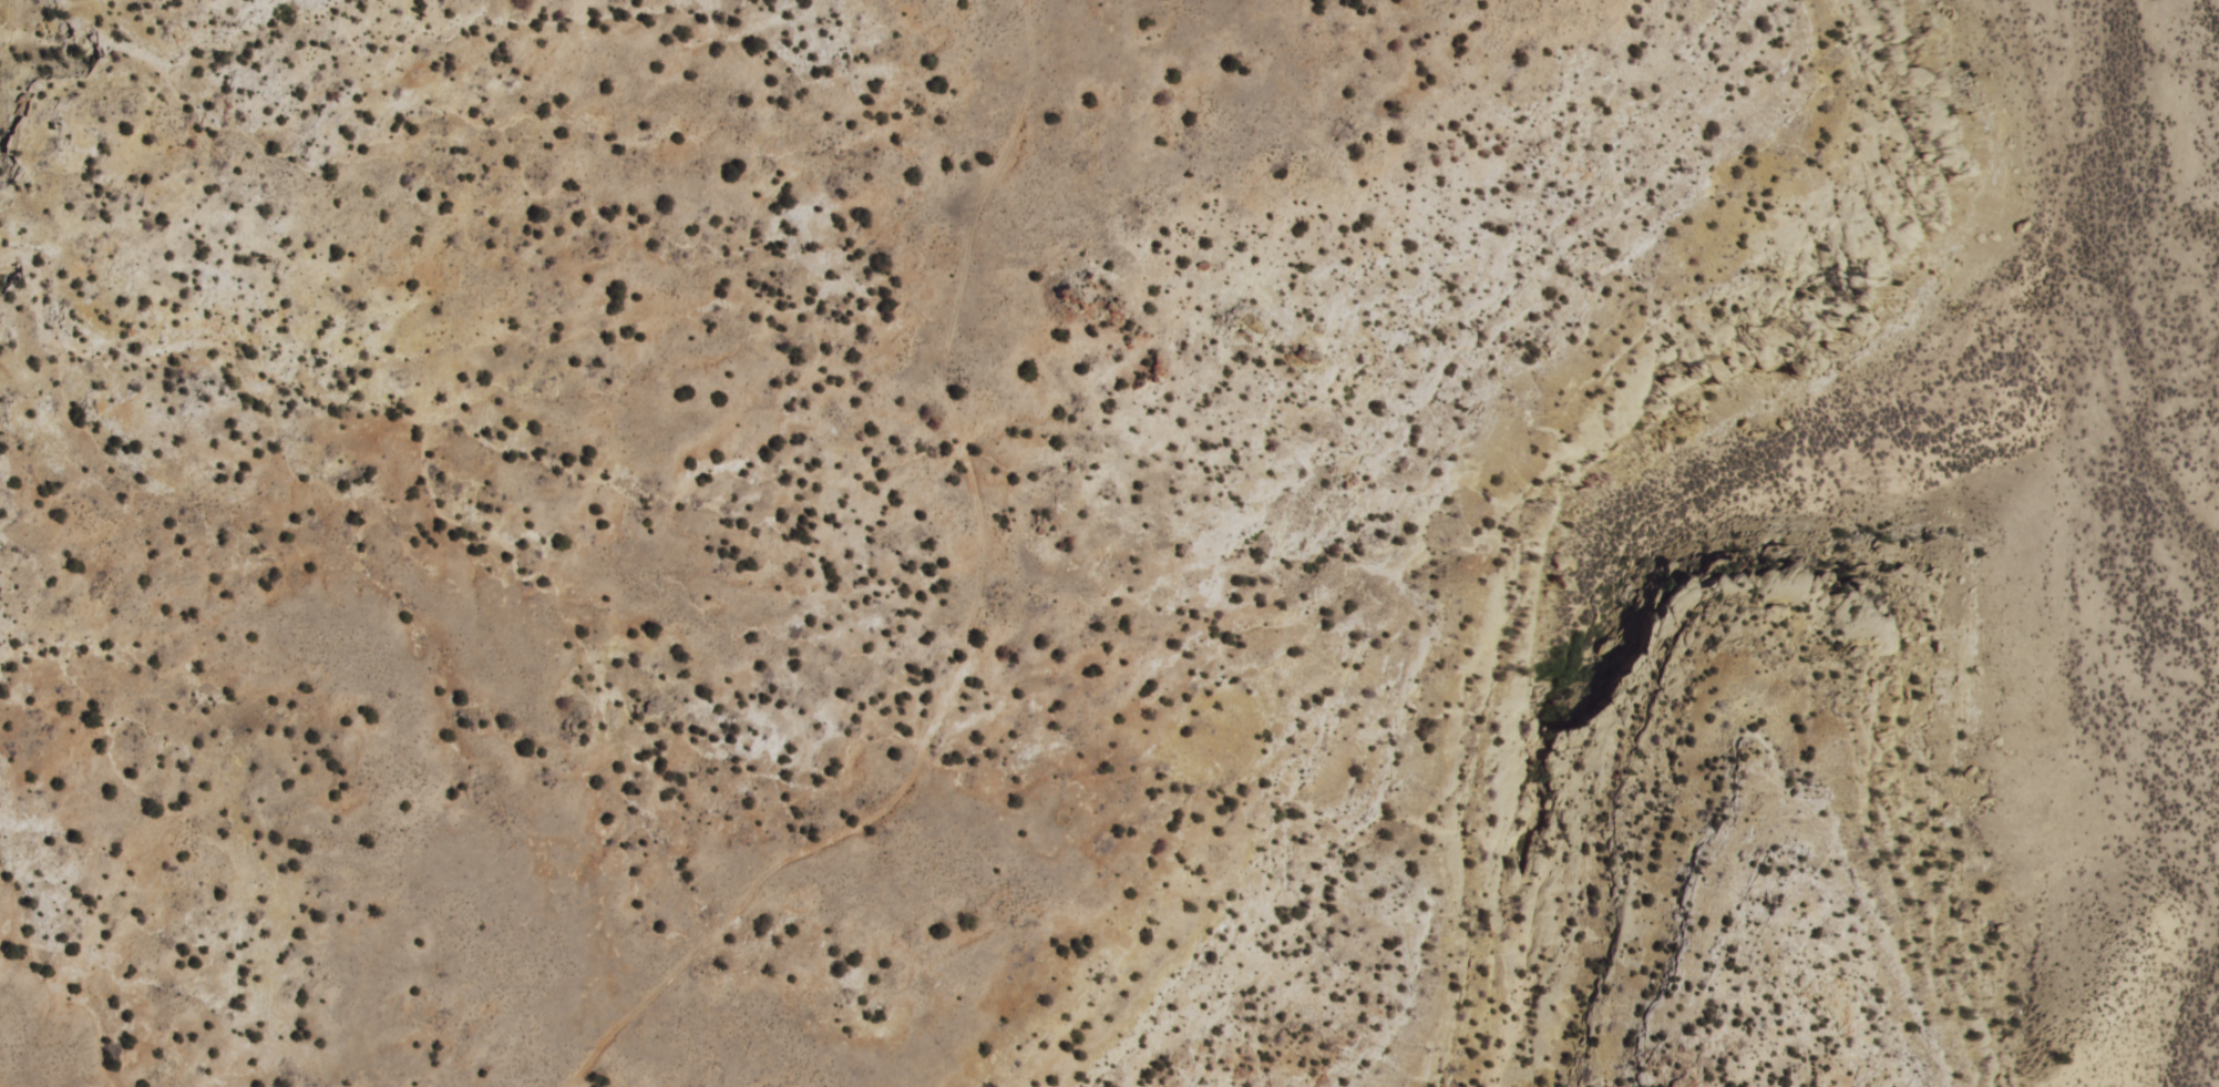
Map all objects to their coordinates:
river: (2129, 293)
river: (2201, 1039)

